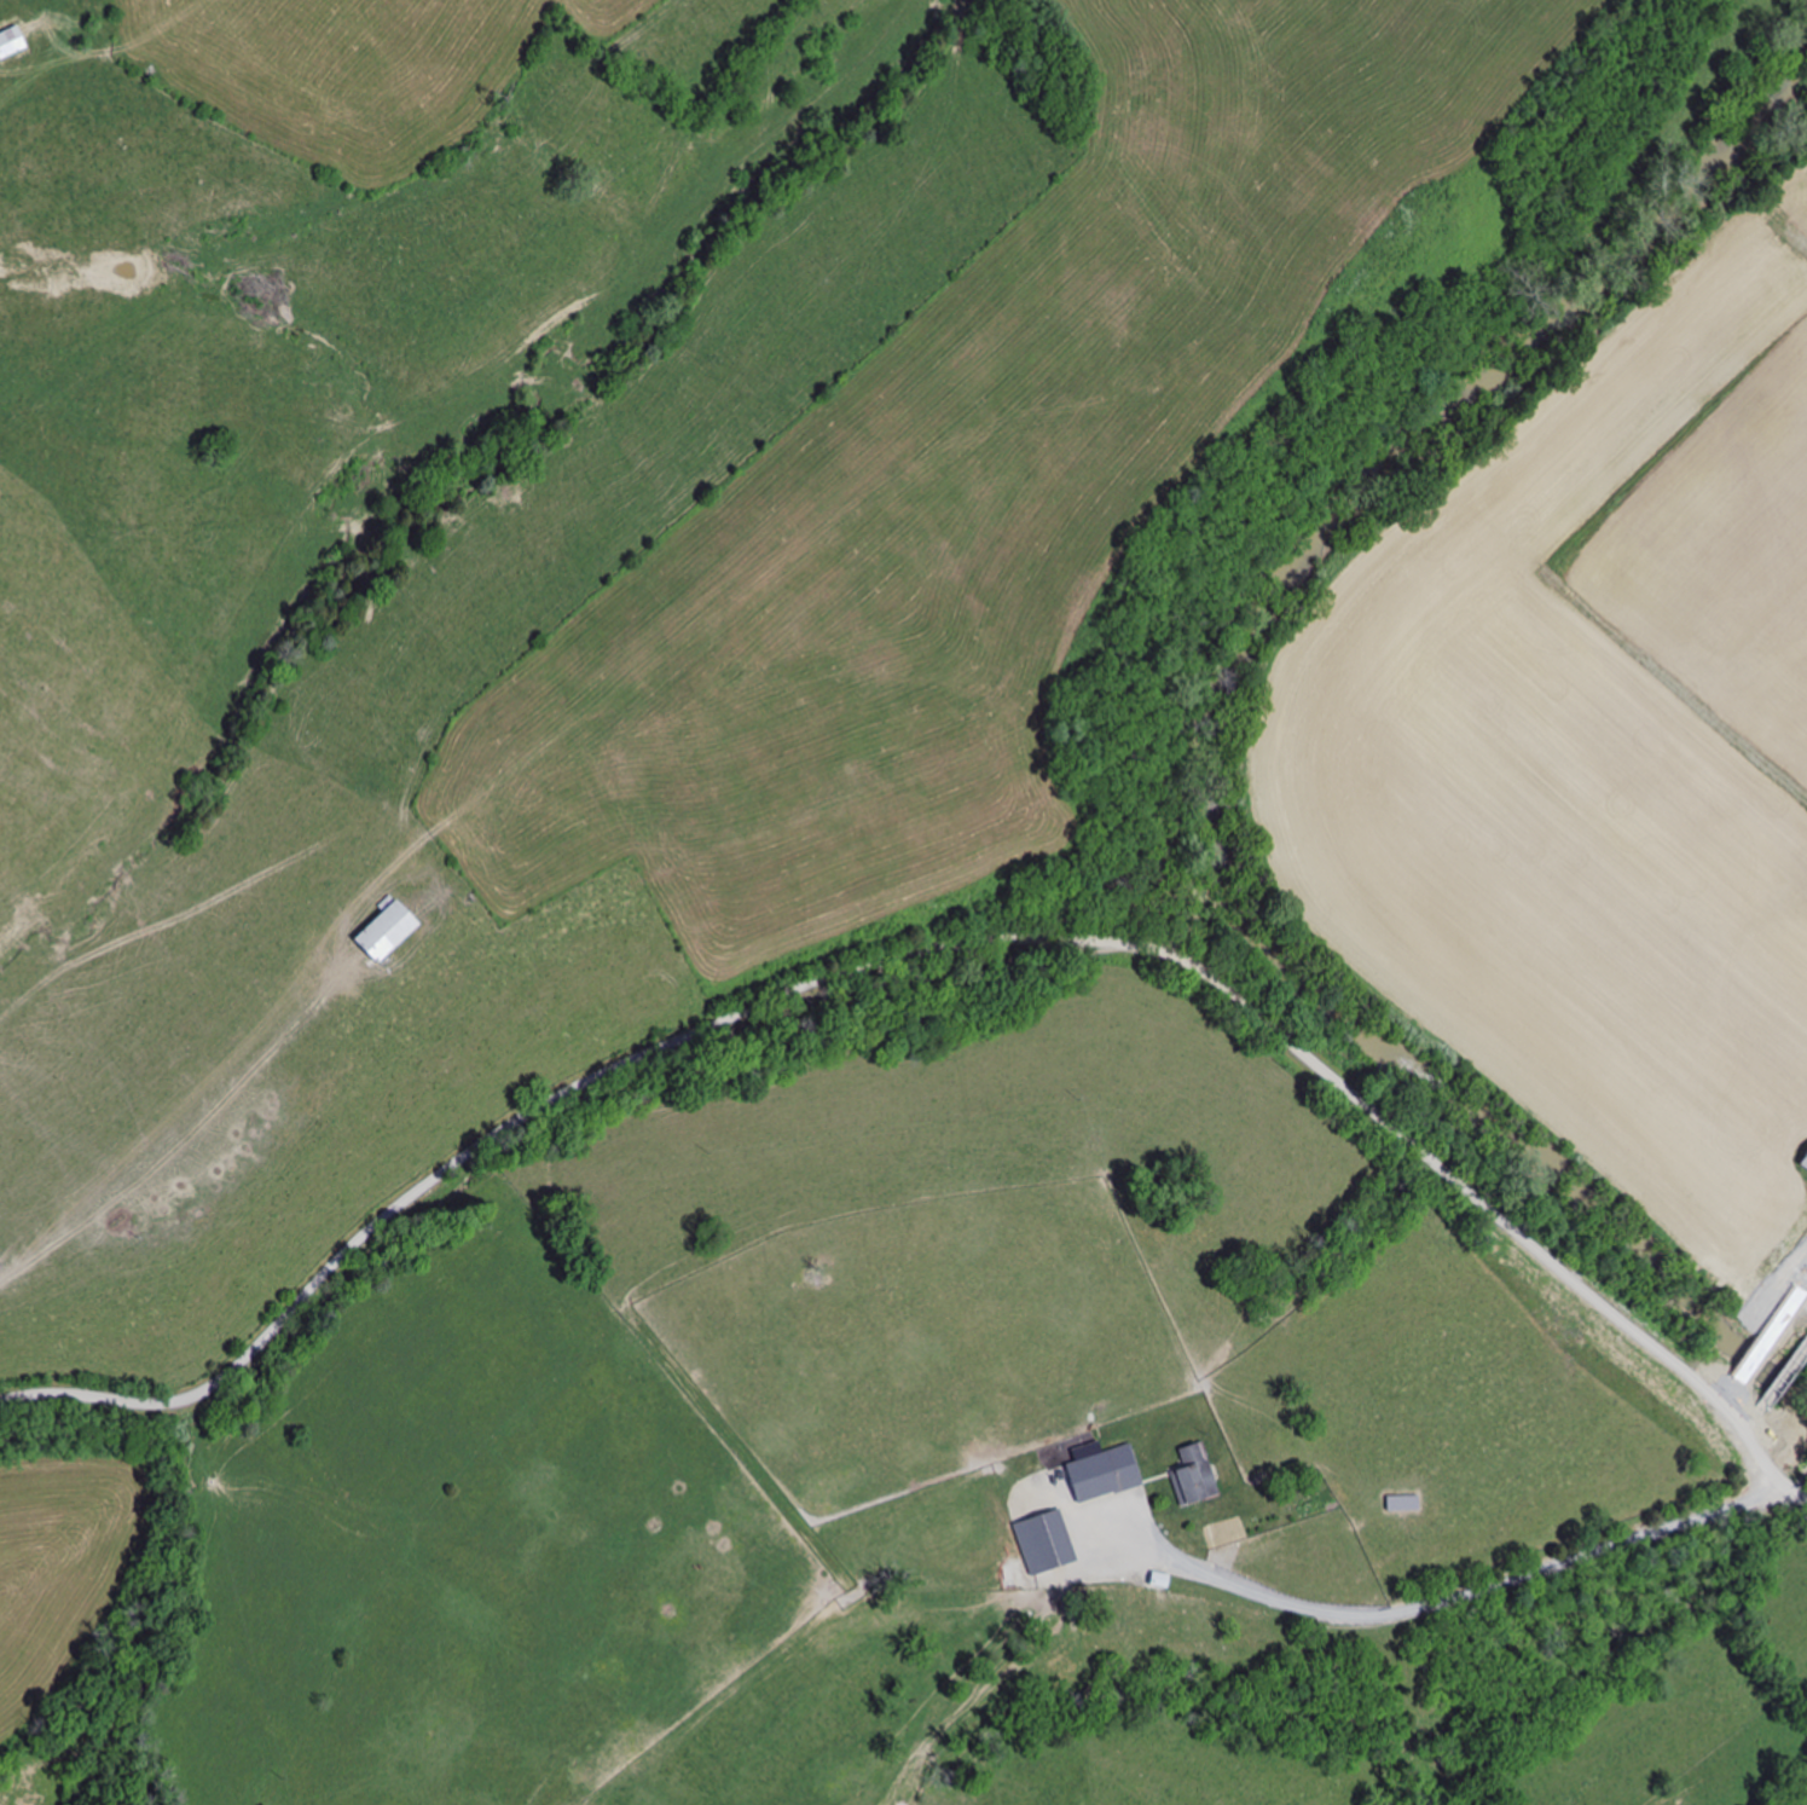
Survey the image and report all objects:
building: (17, 44)
river: (1205, 718)
building: (381, 933)
road: (888, 958)
building: (1802, 1158)
road: (1786, 1367)
road: (1753, 1415)
road: (1766, 1471)
building: (1097, 1475)
building: (1188, 1477)
building: (1039, 1543)
building: (1156, 1581)

